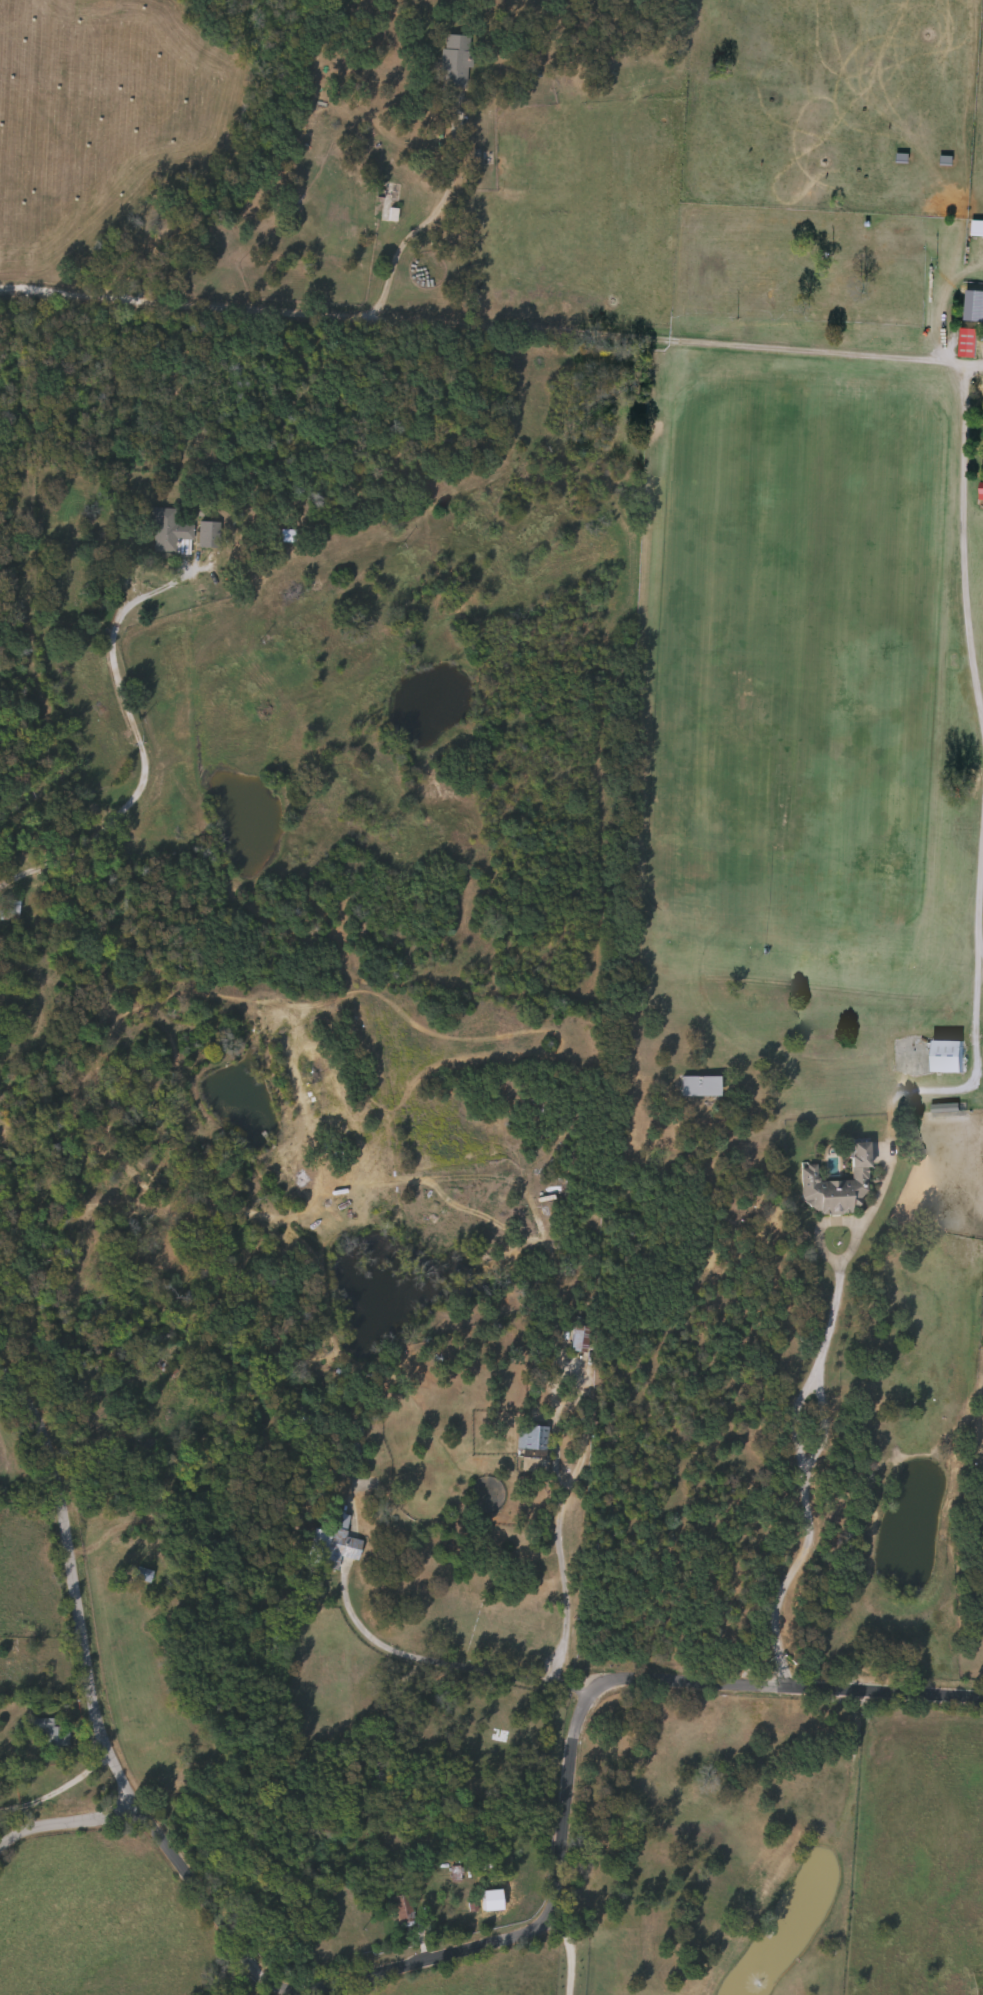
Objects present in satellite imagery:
building: (455, 64)
building: (387, 204)
road: (432, 222)
building: (977, 231)
building: (968, 345)
road: (845, 350)
road: (975, 367)
building: (170, 535)
building: (209, 537)
road: (141, 746)
building: (11, 909)
road: (982, 950)
building: (947, 1058)
building: (701, 1088)
building: (839, 1188)
building: (578, 1341)
building: (533, 1440)
road: (805, 1469)
building: (335, 1545)
building: (145, 1576)
road: (559, 1577)
road: (447, 1664)
road: (582, 1710)
building: (54, 1734)
road: (101, 1741)
road: (57, 1793)
road: (66, 1830)
building: (456, 1877)
building: (405, 1912)
road: (570, 1953)

